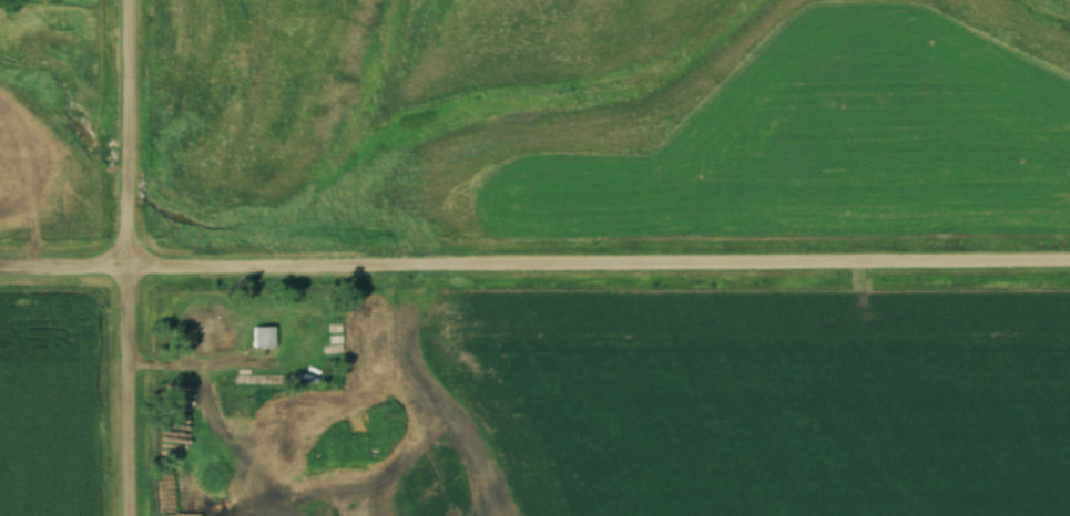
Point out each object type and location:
road: (534, 247)
road: (125, 258)
building: (261, 337)
building: (187, 471)
building: (188, 495)

